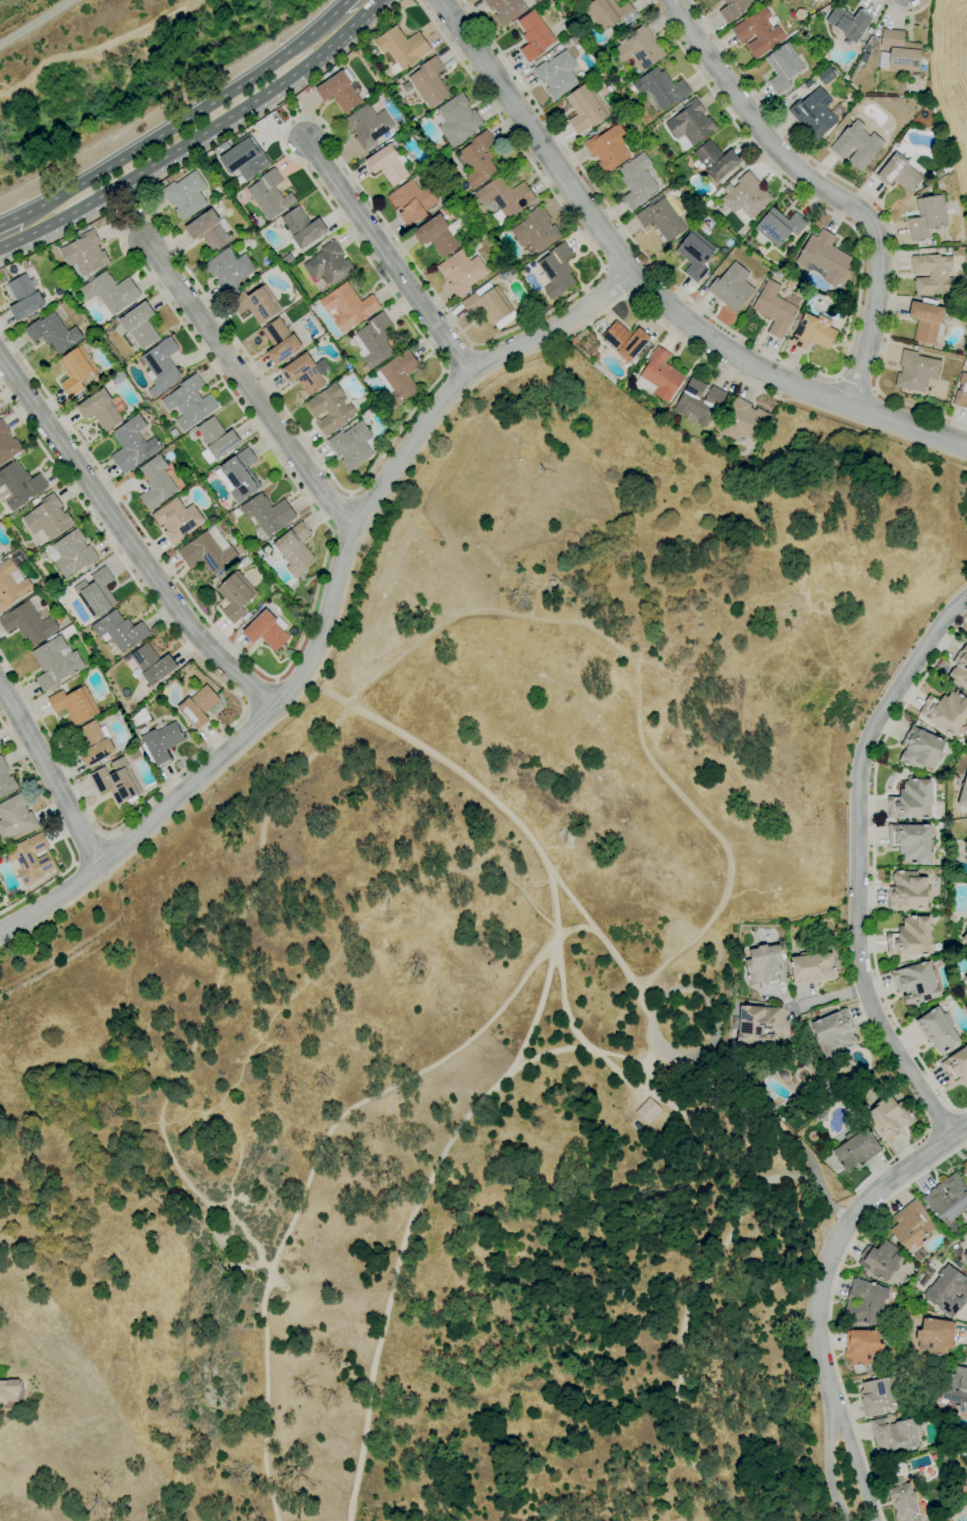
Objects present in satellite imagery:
building: (586, 0)
building: (529, 2)
building: (506, 9)
building: (734, 9)
building: (609, 13)
road: (907, 13)
road: (347, 16)
road: (31, 21)
building: (849, 23)
building: (869, 30)
building: (759, 33)
building: (534, 35)
building: (574, 38)
building: (368, 39)
building: (874, 42)
building: (401, 48)
building: (867, 48)
building: (639, 49)
building: (899, 52)
building: (923, 53)
building: (864, 56)
building: (370, 62)
building: (923, 62)
building: (783, 68)
building: (557, 74)
building: (826, 76)
building: (427, 83)
park: (952, 84)
building: (660, 89)
building: (340, 90)
building: (368, 96)
building: (853, 99)
building: (585, 109)
road: (288, 110)
building: (814, 113)
building: (457, 120)
building: (368, 125)
building: (690, 125)
road: (197, 127)
building: (857, 145)
road: (208, 146)
building: (221, 148)
building: (608, 148)
building: (244, 158)
building: (477, 159)
building: (716, 160)
building: (388, 164)
building: (899, 173)
building: (168, 179)
building: (637, 181)
road: (821, 191)
building: (185, 195)
building: (270, 195)
building: (745, 195)
building: (467, 198)
building: (504, 198)
building: (411, 201)
building: (707, 202)
road: (880, 207)
road: (128, 208)
building: (710, 208)
building: (701, 212)
building: (965, 213)
building: (927, 216)
building: (661, 217)
road: (27, 221)
building: (779, 226)
building: (302, 228)
building: (209, 229)
building: (536, 231)
building: (438, 234)
building: (317, 241)
building: (933, 242)
building: (312, 251)
building: (947, 251)
building: (84, 252)
building: (541, 254)
building: (695, 254)
road: (388, 256)
building: (823, 258)
building: (287, 260)
building: (329, 265)
building: (509, 267)
building: (497, 268)
building: (229, 269)
building: (556, 270)
building: (461, 272)
building: (502, 272)
building: (932, 274)
building: (778, 276)
building: (494, 279)
road: (613, 282)
building: (249, 287)
building: (731, 288)
road: (649, 289)
building: (110, 293)
building: (24, 298)
building: (257, 304)
building: (488, 305)
building: (348, 306)
building: (775, 308)
building: (307, 318)
building: (926, 320)
building: (138, 325)
building: (812, 331)
building: (53, 332)
building: (375, 341)
building: (625, 341)
building: (280, 342)
building: (641, 354)
building: (646, 356)
building: (954, 358)
building: (162, 366)
road: (798, 366)
building: (348, 367)
building: (350, 371)
building: (915, 371)
building: (74, 372)
building: (305, 373)
building: (605, 374)
building: (659, 376)
building: (118, 377)
building: (398, 378)
road: (856, 383)
road: (246, 384)
building: (961, 393)
building: (189, 402)
building: (699, 402)
road: (451, 406)
building: (100, 409)
building: (329, 409)
building: (371, 409)
building: (743, 421)
building: (173, 433)
building: (216, 440)
building: (7, 444)
building: (132, 444)
building: (351, 446)
road: (312, 449)
building: (239, 475)
building: (156, 483)
building: (18, 485)
building: (34, 501)
building: (237, 512)
building: (269, 513)
building: (47, 517)
building: (177, 520)
road: (126, 539)
building: (218, 541)
building: (240, 549)
building: (295, 550)
building: (71, 553)
building: (207, 554)
building: (245, 561)
building: (41, 583)
building: (11, 584)
building: (97, 592)
building: (234, 597)
road: (329, 608)
building: (28, 623)
building: (120, 630)
building: (267, 630)
building: (68, 631)
building: (56, 662)
building: (152, 664)
road: (635, 665)
building: (959, 669)
road: (276, 679)
road: (275, 681)
road: (277, 681)
road: (288, 690)
road: (260, 696)
building: (74, 705)
building: (198, 705)
road: (244, 707)
building: (945, 712)
building: (139, 718)
building: (917, 722)
building: (95, 743)
building: (161, 743)
building: (921, 750)
road: (48, 774)
building: (6, 779)
building: (116, 781)
building: (960, 795)
building: (914, 801)
building: (950, 814)
building: (15, 817)
road: (271, 818)
road: (59, 830)
road: (104, 838)
road: (107, 838)
building: (911, 842)
building: (965, 843)
road: (117, 849)
road: (89, 851)
building: (965, 858)
building: (30, 859)
road: (857, 863)
road: (74, 864)
road: (873, 867)
road: (84, 876)
building: (908, 891)
road: (565, 893)
building: (13, 894)
road: (527, 900)
building: (937, 906)
road: (56, 911)
building: (910, 937)
building: (964, 939)
building: (765, 965)
building: (811, 967)
road: (623, 974)
building: (965, 978)
building: (917, 982)
road: (826, 996)
park: (474, 1005)
building: (812, 1013)
building: (756, 1024)
building: (938, 1030)
road: (576, 1031)
building: (834, 1032)
road: (714, 1048)
building: (794, 1053)
building: (956, 1065)
road: (650, 1095)
building: (648, 1110)
building: (889, 1119)
road: (942, 1119)
building: (856, 1148)
road: (897, 1158)
building: (965, 1171)
building: (948, 1200)
road: (419, 1211)
building: (911, 1225)
building: (956, 1250)
building: (965, 1256)
building: (881, 1259)
building: (957, 1264)
building: (862, 1273)
building: (947, 1290)
road: (819, 1293)
building: (865, 1302)
road: (831, 1305)
road: (268, 1329)
building: (936, 1336)
building: (863, 1346)
road: (697, 1349)
building: (955, 1387)
building: (9, 1390)
building: (878, 1395)
building: (894, 1434)
building: (960, 1451)
building: (966, 1499)
building: (903, 1501)
building: (923, 1505)
building: (966, 1506)

